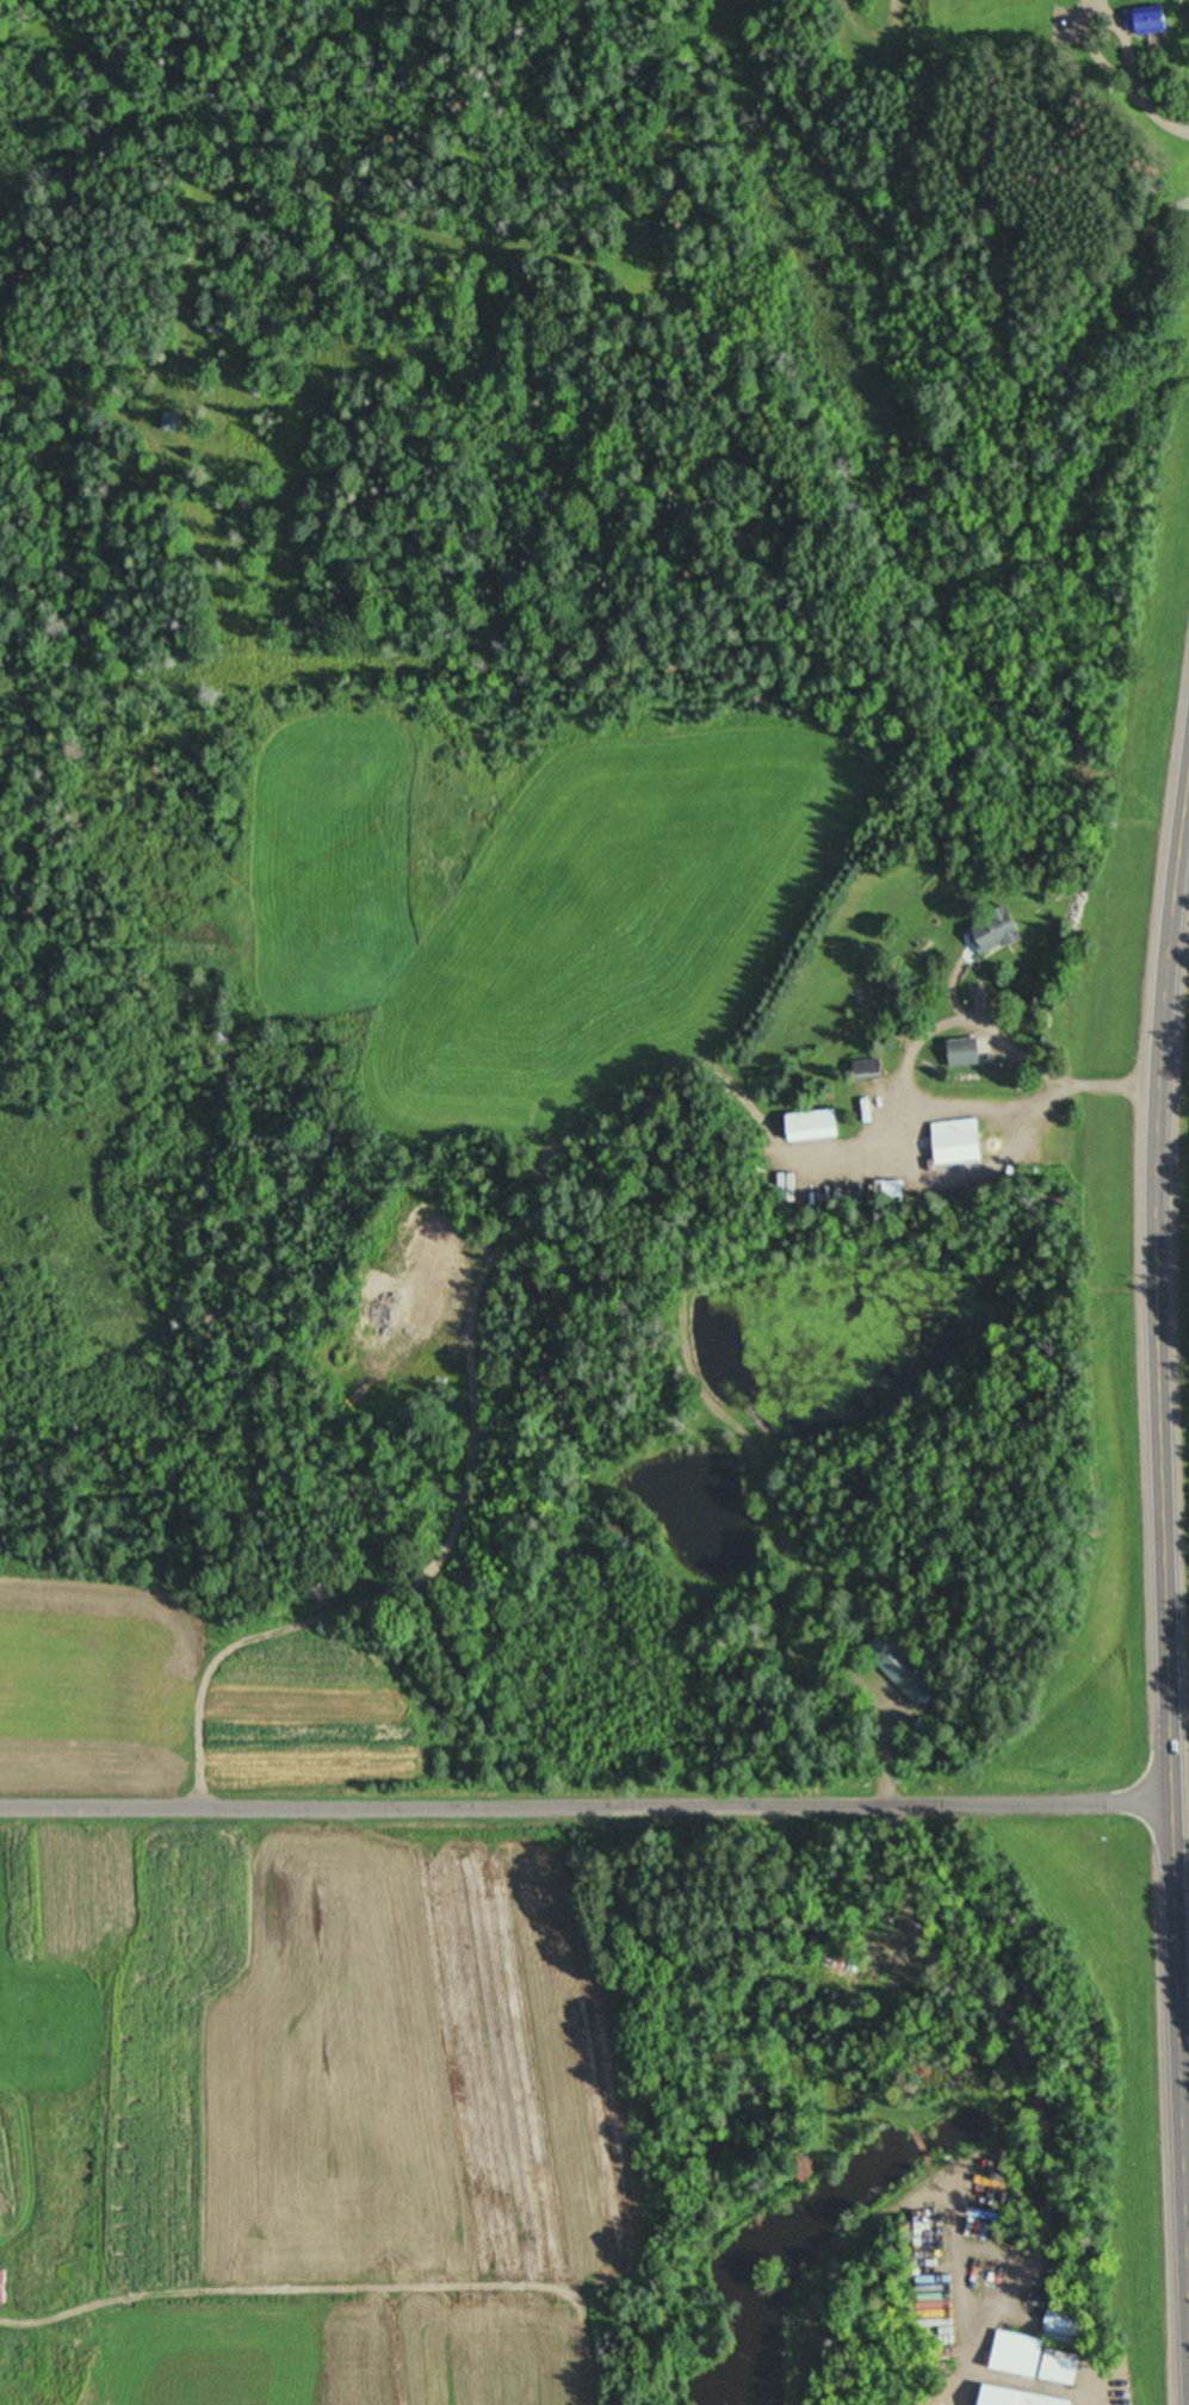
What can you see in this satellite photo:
building: (1145, 24)
road: (1187, 910)
building: (989, 930)
building: (958, 1053)
building: (862, 1071)
building: (806, 1127)
building: (953, 1142)
road: (1172, 1525)
building: (898, 1669)
road: (587, 1811)
building: (1, 2286)
building: (1029, 2358)
building: (1010, 2398)

